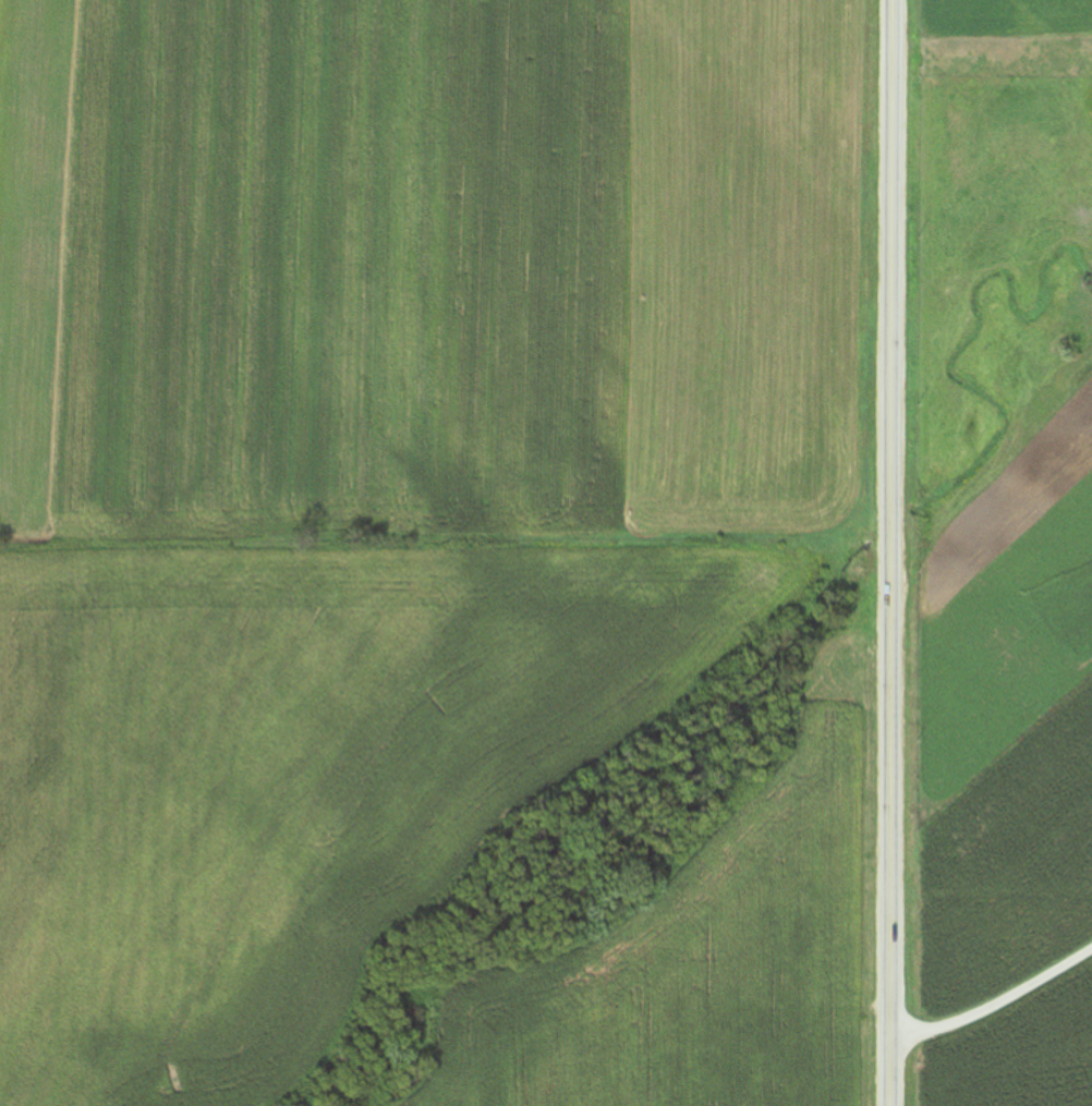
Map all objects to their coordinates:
road: (888, 552)
road: (990, 892)
road: (994, 1006)

